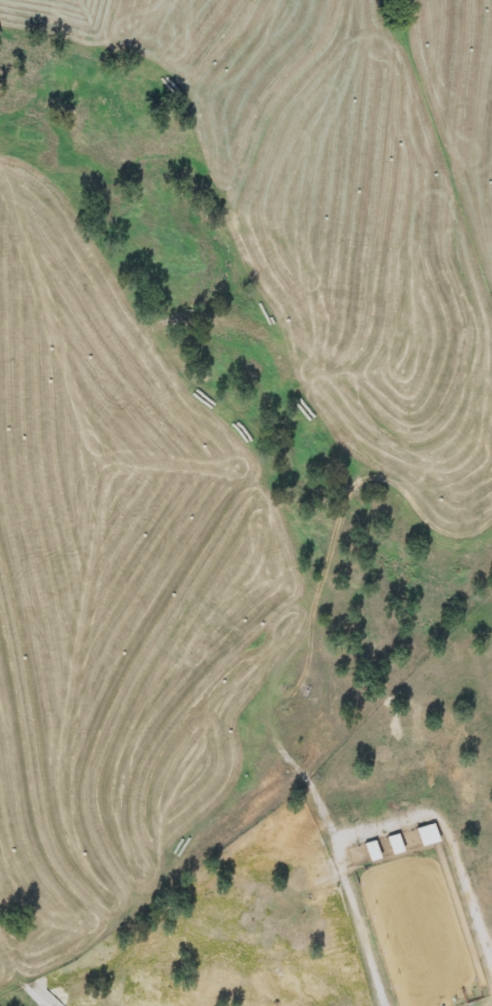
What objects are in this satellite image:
building: (427, 834)
building: (395, 844)
building: (372, 850)

